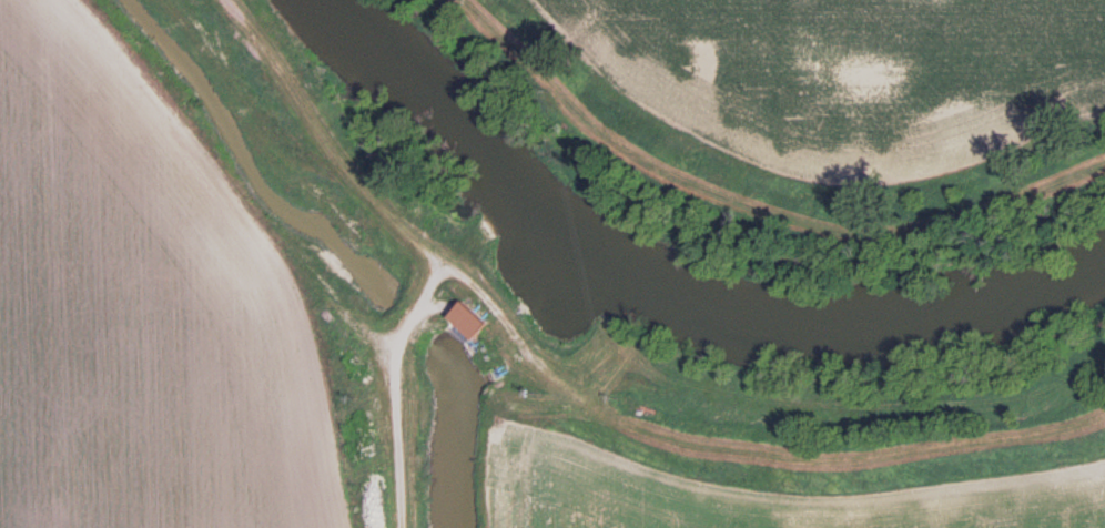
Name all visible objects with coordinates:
river: (655, 298)
crop: (140, 312)
building: (460, 319)
road: (396, 445)

